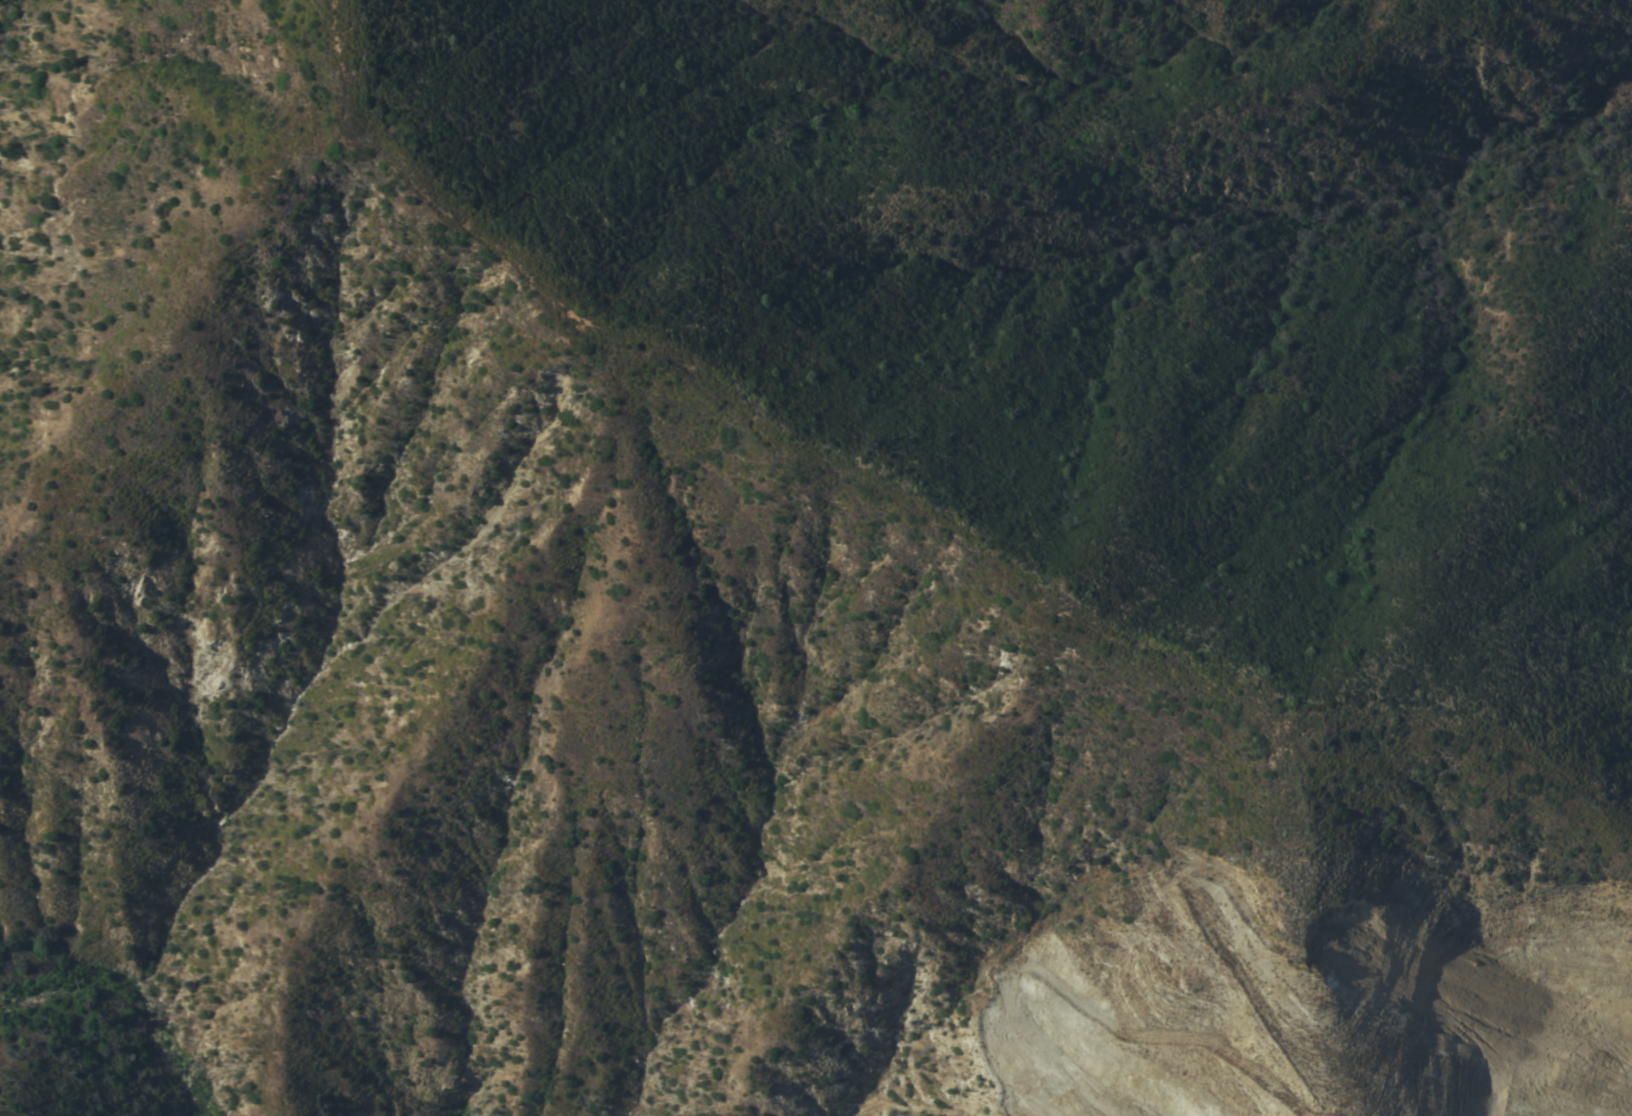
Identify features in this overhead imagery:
quarry: (1275, 985)

